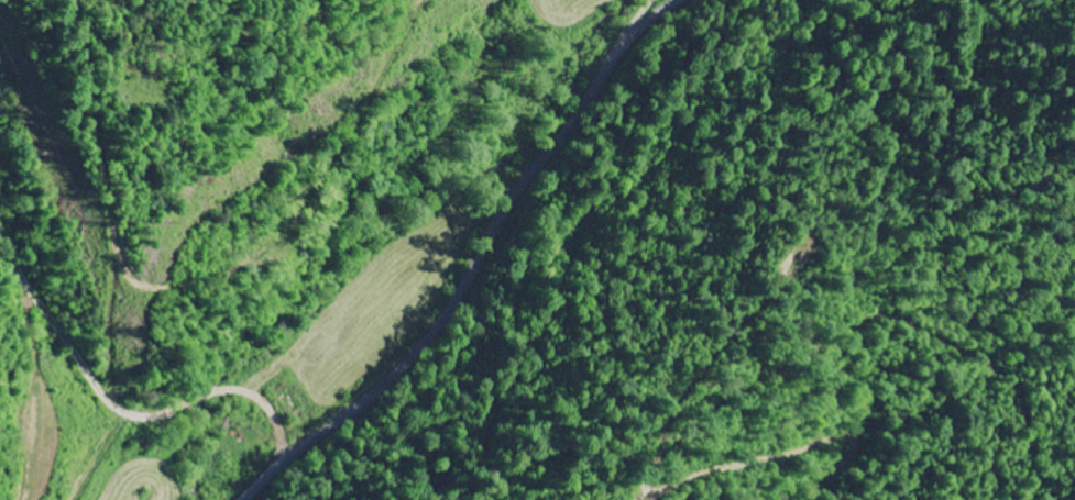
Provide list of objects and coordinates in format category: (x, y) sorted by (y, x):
road: (473, 255)

